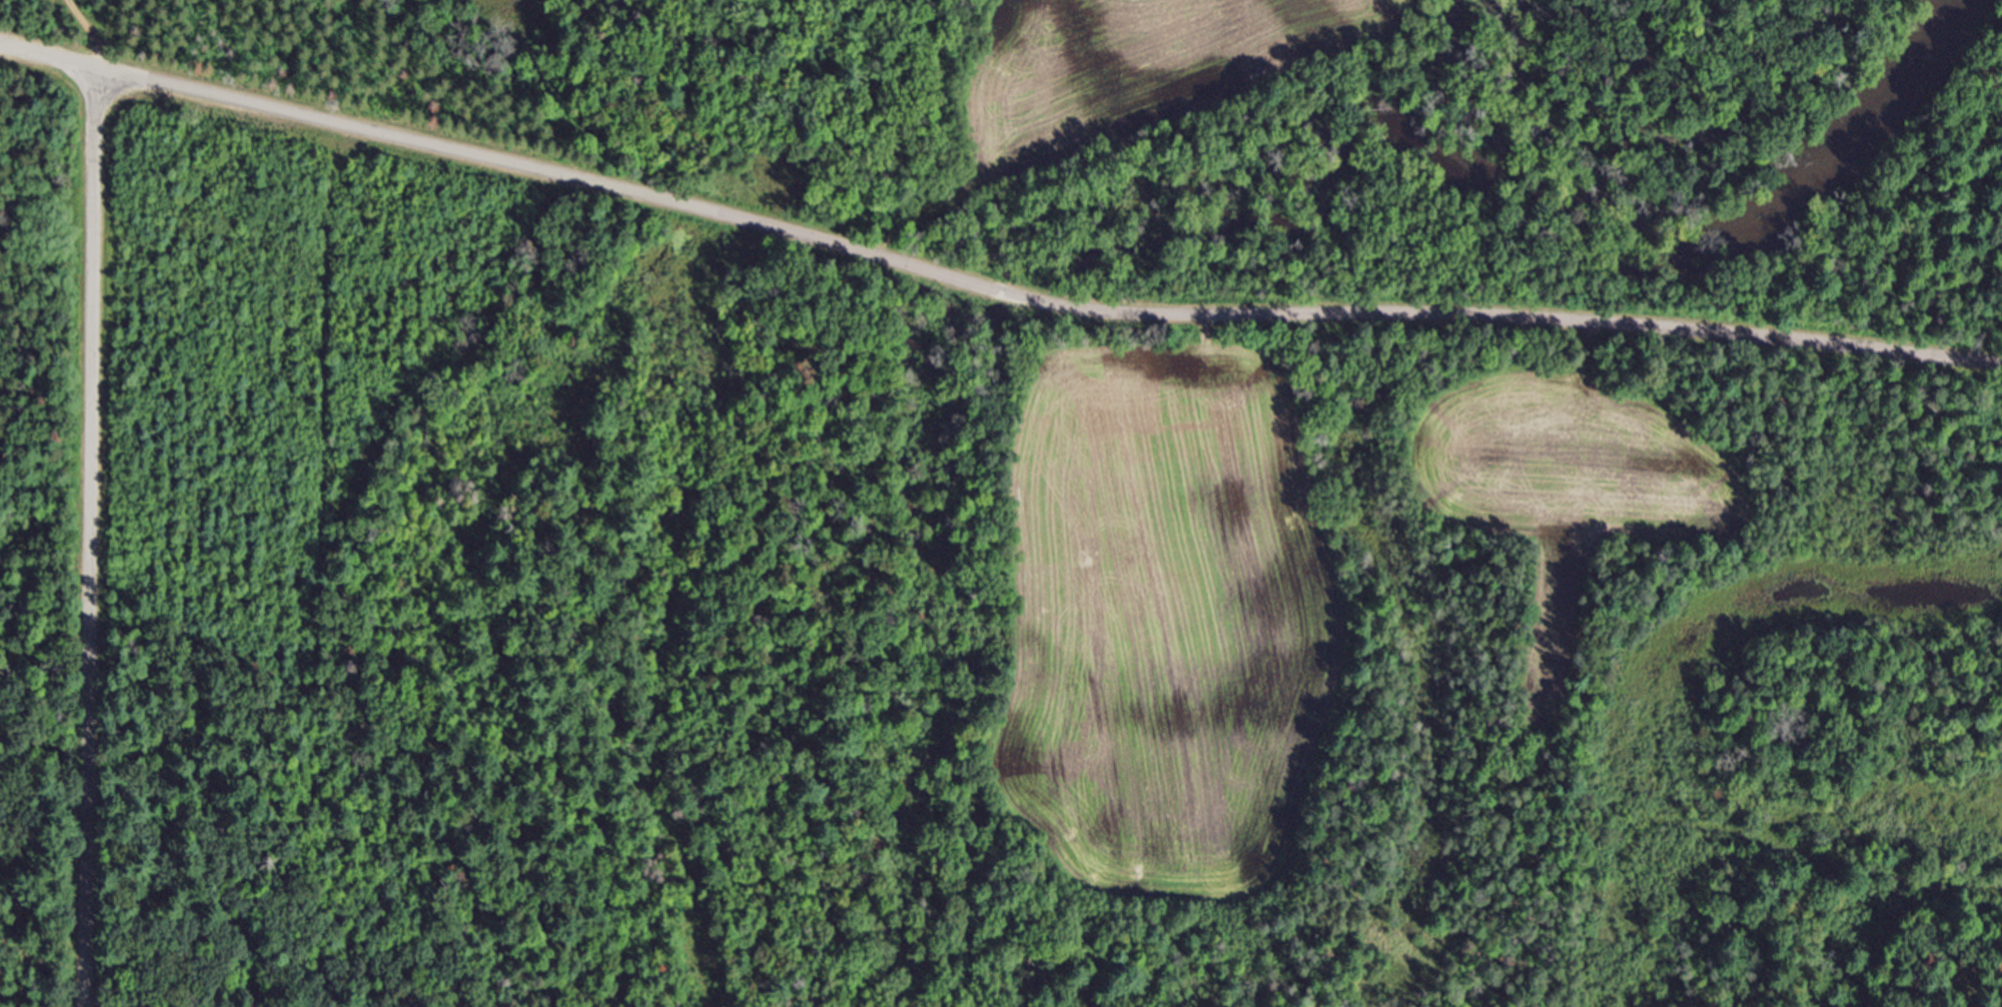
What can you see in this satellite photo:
road: (988, 287)
road: (93, 537)

